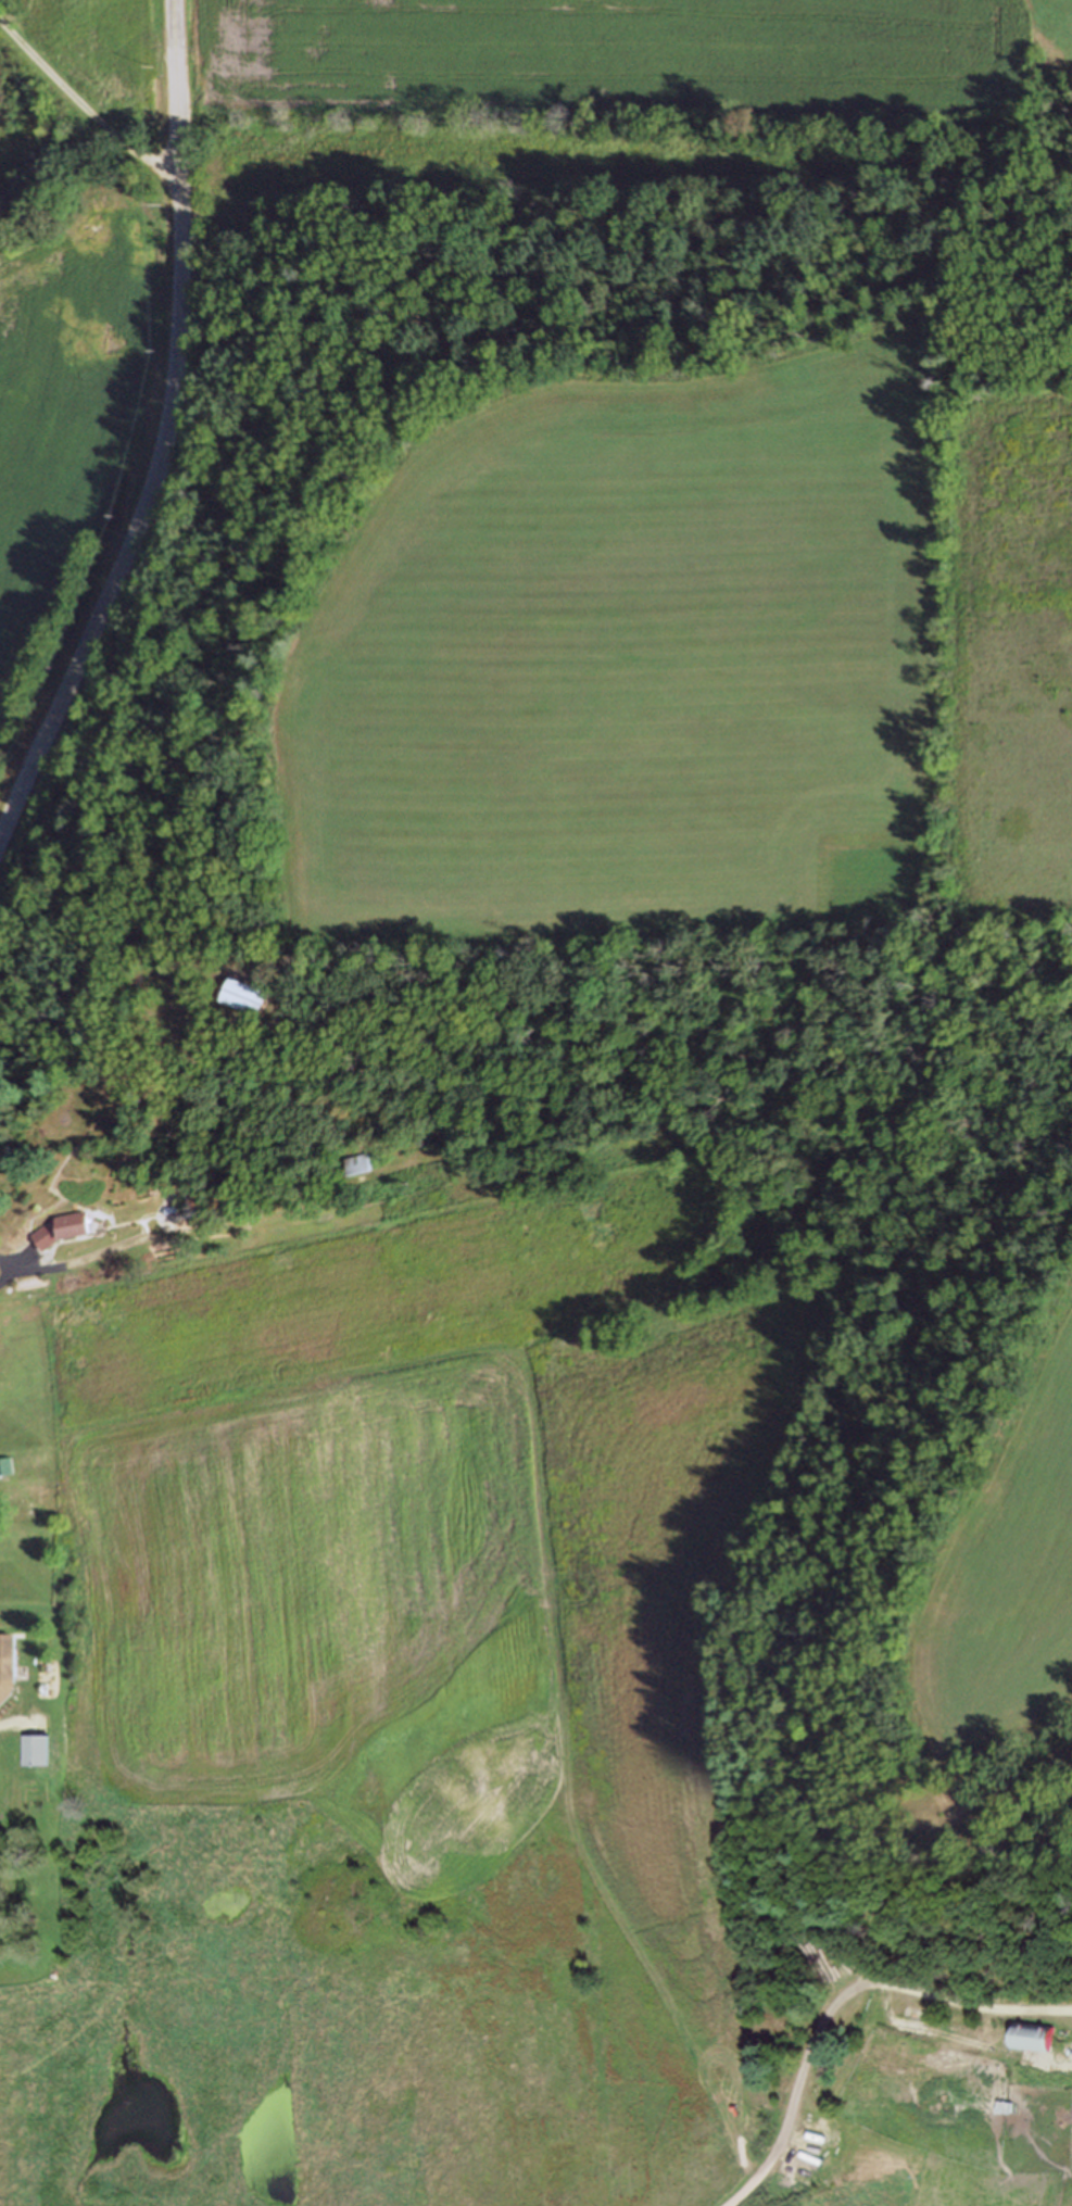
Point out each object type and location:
road: (174, 26)
road: (88, 101)
road: (160, 458)
building: (243, 996)
road: (98, 1021)
building: (354, 1164)
building: (365, 1164)
building: (56, 1231)
road: (134, 1246)
road: (4, 1270)
building: (4, 1466)
building: (5, 1666)
road: (20, 1723)
building: (34, 1754)
road: (846, 2003)
building: (1038, 2042)
building: (1002, 2107)

